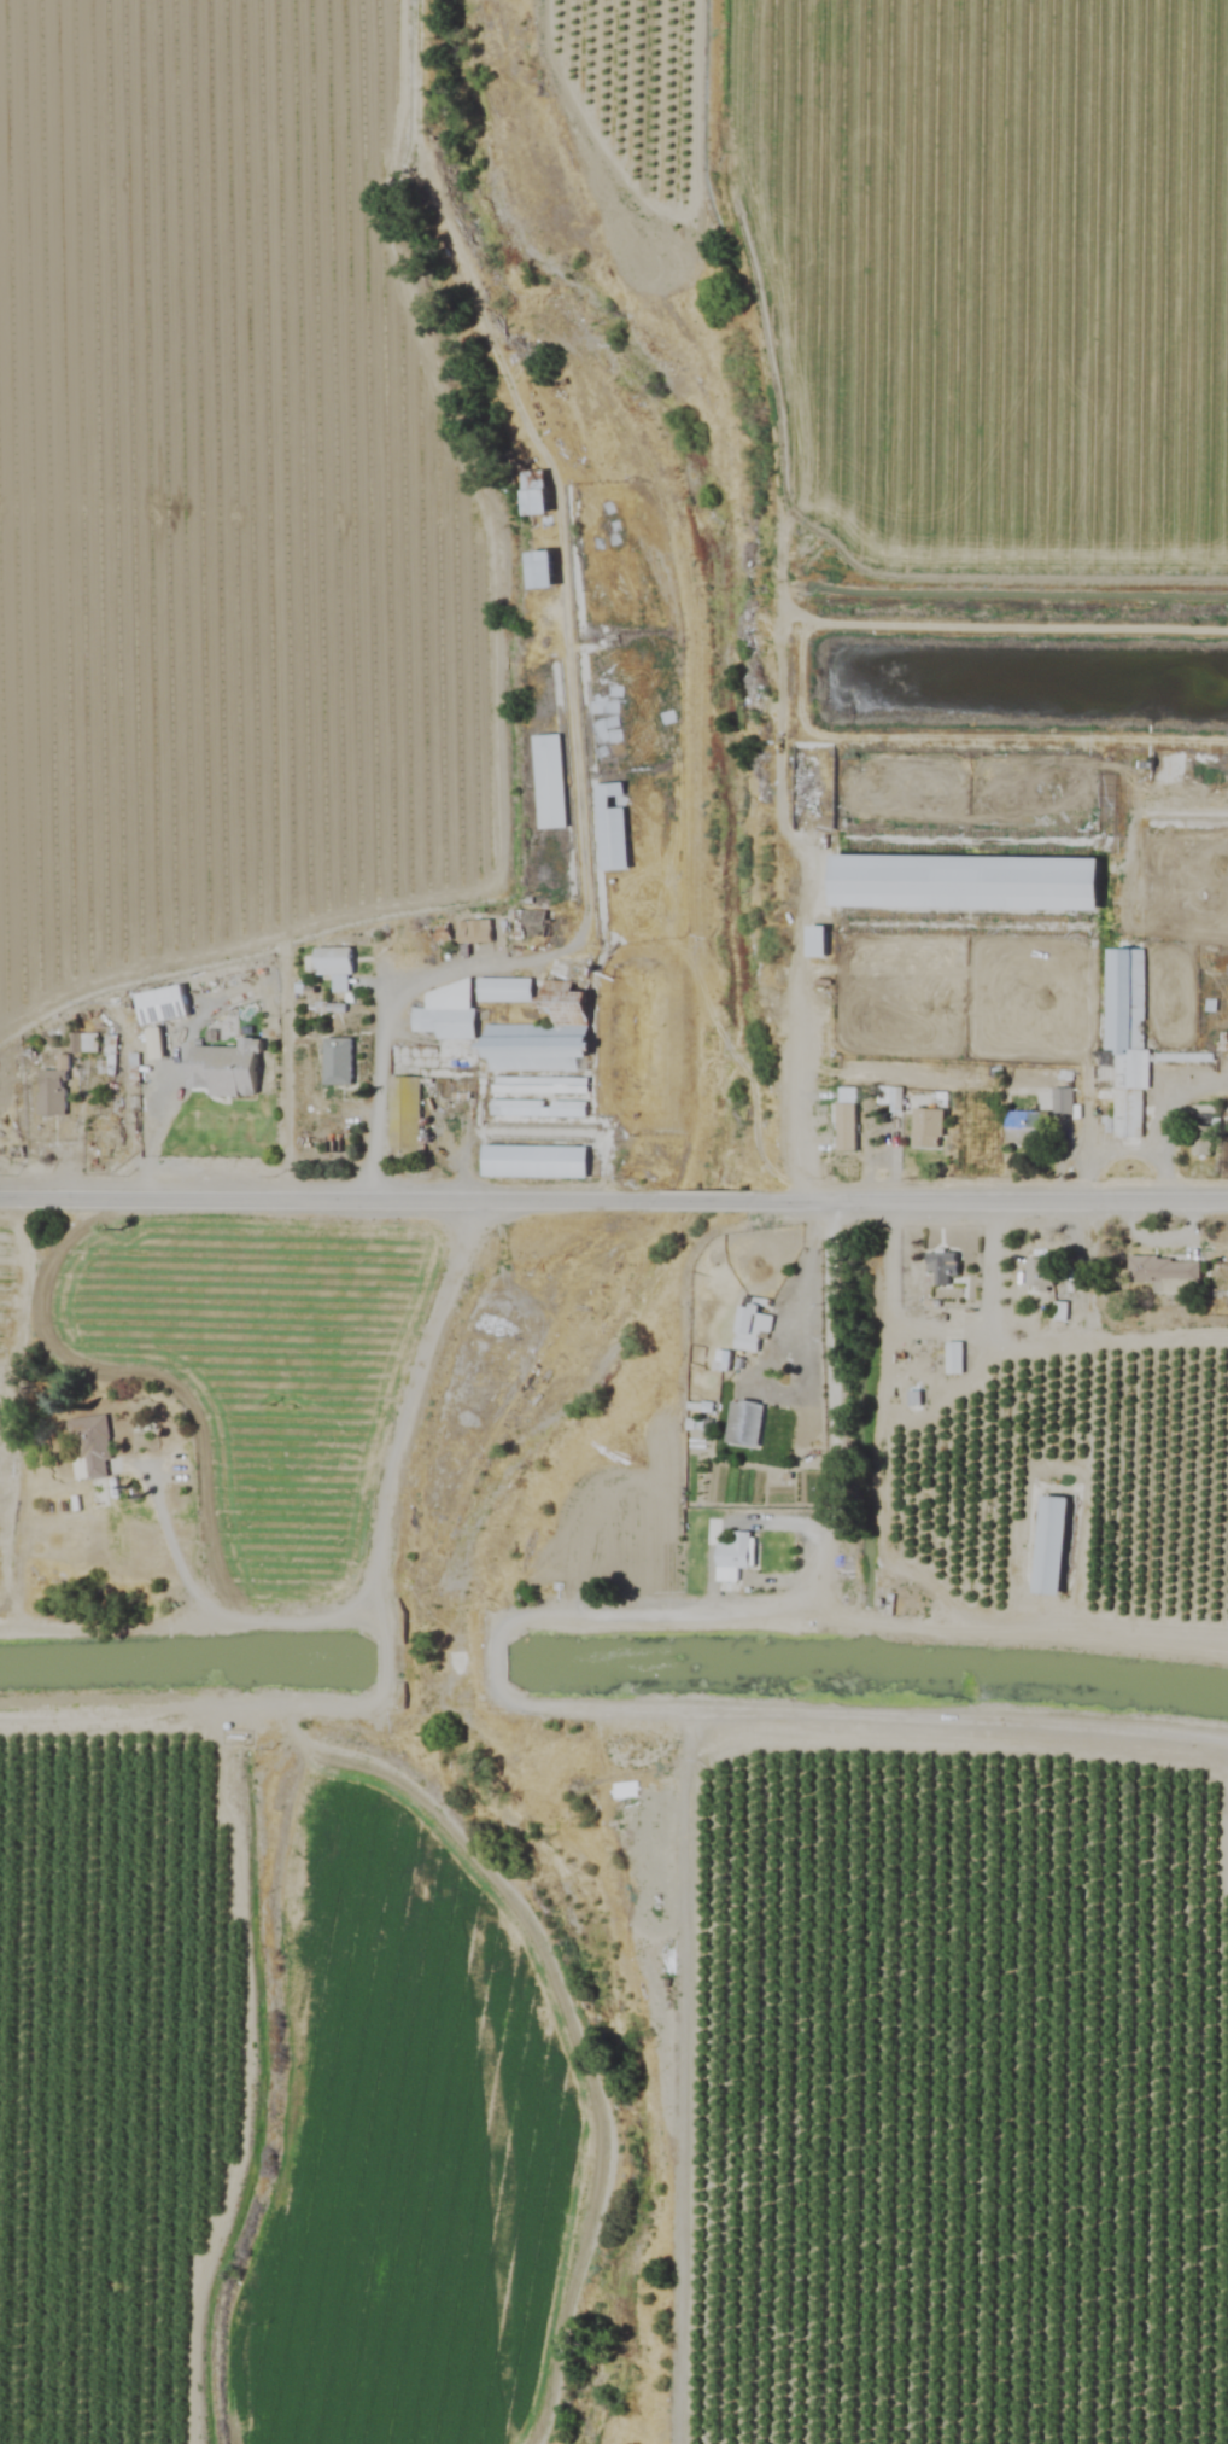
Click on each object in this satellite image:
crop: (964, 262)
crop: (220, 485)
building: (531, 531)
building: (601, 728)
building: (548, 782)
building: (1105, 792)
building: (608, 827)
building: (961, 882)
building: (473, 932)
road: (577, 935)
building: (812, 941)
building: (332, 962)
building: (158, 1005)
building: (444, 1013)
building: (532, 1027)
building: (1125, 1038)
building: (83, 1043)
building: (411, 1057)
building: (335, 1062)
building: (223, 1069)
building: (536, 1085)
building: (51, 1092)
building: (400, 1096)
building: (894, 1099)
building: (1062, 1101)
building: (536, 1108)
building: (844, 1124)
building: (926, 1127)
building: (1024, 1128)
building: (530, 1161)
road: (323, 1200)
road: (996, 1200)
road: (707, 1202)
building: (940, 1267)
building: (1162, 1272)
building: (1036, 1275)
road: (806, 1299)
road: (945, 1325)
building: (752, 1331)
building: (953, 1359)
building: (743, 1423)
building: (86, 1448)
building: (1046, 1546)
road: (172, 1556)
building: (730, 1557)
road: (573, 1707)
crop: (259, 1876)
crop: (983, 2014)

